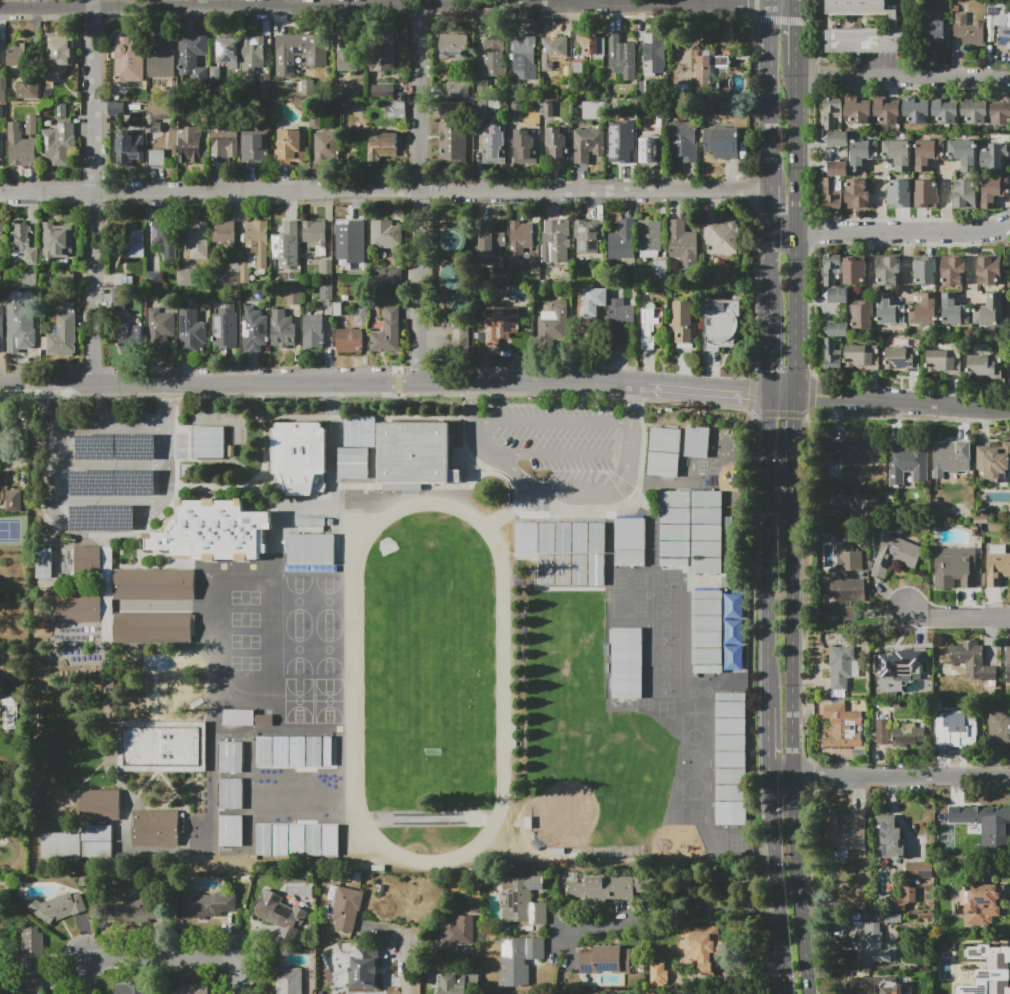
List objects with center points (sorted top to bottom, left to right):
road: (275, 2)
road: (398, 2)
road: (658, 2)
road: (769, 2)
road: (908, 3)
road: (387, 5)
building: (997, 9)
road: (796, 11)
building: (864, 29)
building: (968, 30)
building: (937, 31)
building: (1004, 35)
road: (796, 43)
building: (590, 45)
building: (454, 46)
building: (228, 50)
building: (300, 51)
building: (553, 51)
building: (656, 53)
building: (19, 54)
building: (381, 54)
building: (59, 55)
building: (194, 57)
building: (162, 58)
building: (494, 58)
building: (620, 58)
building: (128, 59)
building: (256, 59)
building: (348, 59)
building: (525, 59)
road: (903, 76)
building: (3, 88)
building: (383, 89)
building: (29, 90)
building: (458, 90)
road: (769, 94)
building: (114, 107)
building: (395, 108)
building: (449, 109)
building: (592, 109)
building: (946, 109)
building: (974, 109)
building: (62, 110)
building: (858, 110)
building: (887, 110)
building: (915, 110)
building: (2, 111)
building: (831, 111)
building: (1000, 113)
building: (838, 139)
building: (188, 140)
building: (451, 141)
building: (721, 141)
building: (684, 143)
building: (56, 144)
building: (127, 144)
building: (224, 144)
building: (588, 144)
building: (26, 145)
building: (495, 145)
building: (616, 145)
building: (255, 146)
building: (289, 146)
building: (325, 146)
building: (557, 146)
building: (382, 147)
building: (524, 147)
building: (1, 149)
road: (796, 149)
building: (649, 150)
building: (898, 153)
building: (928, 153)
building: (963, 153)
building: (862, 154)
building: (155, 156)
building: (994, 157)
building: (838, 169)
building: (993, 189)
road: (385, 190)
road: (98, 192)
road: (420, 192)
building: (900, 193)
building: (965, 193)
building: (857, 194)
building: (925, 194)
building: (830, 195)
road: (771, 209)
road: (996, 228)
building: (312, 231)
building: (223, 232)
road: (890, 233)
building: (385, 234)
road: (784, 234)
building: (1, 235)
building: (589, 236)
building: (164, 237)
building: (721, 238)
building: (196, 239)
building: (454, 239)
building: (650, 239)
building: (354, 241)
building: (487, 242)
building: (519, 242)
building: (57, 243)
building: (24, 244)
building: (135, 244)
building: (285, 244)
building: (624, 244)
building: (555, 245)
building: (683, 245)
building: (255, 251)
building: (337, 256)
building: (327, 267)
building: (888, 270)
building: (951, 270)
building: (989, 270)
building: (853, 271)
building: (926, 271)
road: (771, 272)
building: (227, 275)
building: (454, 276)
building: (395, 277)
building: (189, 278)
building: (27, 279)
building: (154, 279)
building: (833, 279)
building: (123, 280)
building: (326, 292)
building: (292, 294)
building: (117, 298)
building: (460, 301)
building: (590, 302)
building: (888, 310)
building: (925, 310)
building: (953, 310)
building: (989, 310)
building: (359, 314)
building: (621, 314)
road: (798, 314)
building: (854, 320)
building: (721, 323)
building: (500, 324)
building: (553, 324)
building: (684, 324)
building: (652, 325)
building: (225, 328)
building: (2, 329)
building: (160, 329)
building: (282, 329)
building: (254, 330)
building: (389, 330)
building: (191, 331)
building: (63, 332)
building: (313, 332)
building: (26, 333)
building: (129, 335)
building: (349, 340)
road: (771, 352)
building: (832, 356)
building: (861, 356)
building: (903, 358)
building: (944, 362)
building: (985, 366)
traffic signals: (771, 371)
road: (317, 382)
road: (702, 389)
traffic signals: (748, 392)
road: (783, 394)
road: (349, 395)
traffic signals: (816, 397)
road: (475, 399)
road: (633, 402)
road: (902, 403)
road: (168, 405)
road: (370, 417)
traffic signals: (796, 418)
road: (902, 418)
road: (554, 419)
road: (108, 428)
building: (696, 441)
building: (209, 442)
road: (266, 442)
road: (795, 447)
parking lot: (560, 449)
building: (663, 451)
building: (352, 453)
building: (416, 453)
road: (560, 454)
building: (855, 454)
building: (299, 458)
road: (5, 459)
building: (950, 459)
building: (993, 461)
building: (907, 462)
road: (109, 465)
parking lot: (109, 468)
building: (0, 480)
road: (569, 480)
building: (1, 493)
road: (106, 502)
building: (859, 505)
road: (560, 513)
road: (278, 515)
road: (504, 516)
building: (311, 522)
road: (82, 526)
building: (673, 528)
building: (311, 529)
track: (488, 529)
building: (215, 530)
building: (706, 531)
building: (558, 537)
building: (629, 542)
road: (769, 545)
building: (299, 549)
building: (323, 549)
building: (898, 552)
building: (849, 557)
building: (88, 560)
building: (44, 562)
building: (997, 565)
building: (955, 567)
road: (350, 572)
building: (571, 572)
track: (350, 575)
building: (154, 584)
road: (754, 591)
building: (844, 598)
park: (299, 601)
park: (329, 601)
park: (628, 603)
building: (78, 607)
park: (665, 614)
road: (957, 617)
building: (153, 628)
building: (706, 631)
road: (793, 638)
park: (299, 649)
park: (330, 650)
building: (732, 658)
building: (972, 660)
building: (156, 661)
building: (626, 663)
building: (905, 663)
building: (1008, 664)
building: (843, 665)
park: (665, 668)
track: (428, 682)
track: (353, 684)
park: (430, 685)
building: (895, 703)
building: (948, 705)
park: (299, 708)
building: (10, 710)
building: (253, 727)
building: (843, 727)
building: (999, 728)
building: (881, 731)
building: (907, 734)
building: (957, 735)
road: (771, 737)
building: (225, 742)
building: (161, 746)
building: (293, 751)
building: (230, 756)
building: (729, 756)
building: (0, 767)
road: (783, 778)
road: (902, 778)
park: (598, 779)
building: (230, 793)
park: (308, 798)
building: (5, 799)
building: (100, 805)
road: (895, 811)
building: (983, 820)
building: (38, 823)
building: (156, 828)
building: (230, 830)
building: (845, 831)
building: (96, 833)
park: (217, 835)
building: (889, 838)
building: (297, 839)
building: (61, 846)
building: (96, 850)
building: (919, 870)
road: (717, 886)
road: (777, 886)
road: (799, 886)
building: (604, 888)
building: (901, 900)
building: (523, 901)
building: (982, 904)
building: (208, 905)
building: (858, 906)
building: (58, 907)
building: (346, 909)
building: (131, 910)
road: (673, 914)
building: (281, 915)
building: (865, 916)
building: (874, 918)
building: (892, 918)
building: (460, 931)
building: (874, 945)
building: (705, 946)
road: (155, 955)
building: (518, 959)
building: (33, 961)
building: (604, 966)
building: (363, 968)
building: (980, 969)
road: (405, 974)
building: (662, 974)
road: (240, 978)
building: (289, 981)
building: (456, 983)
building: (877, 984)
road: (91, 987)
building: (130, 989)
building: (192, 989)
building: (593, 992)

